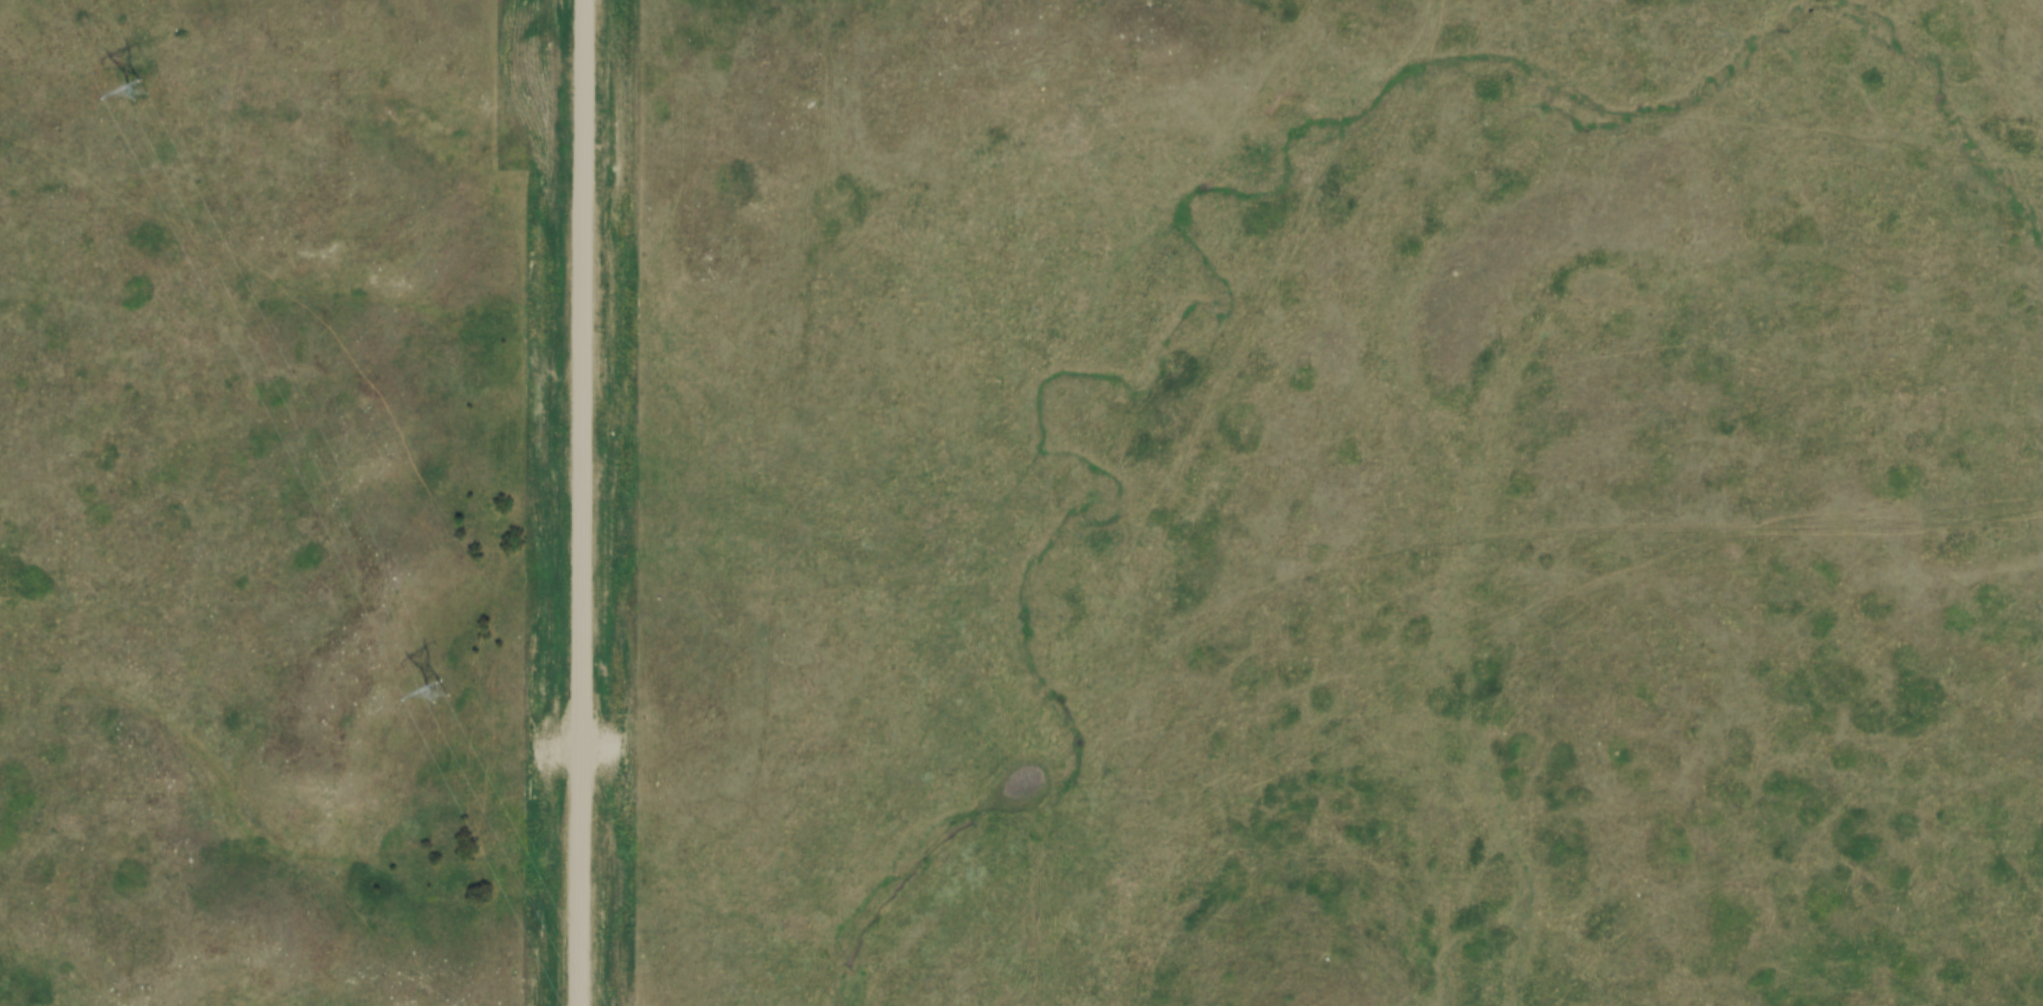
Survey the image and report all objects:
power tower: (135, 87)
road: (583, 502)
power tower: (442, 689)

